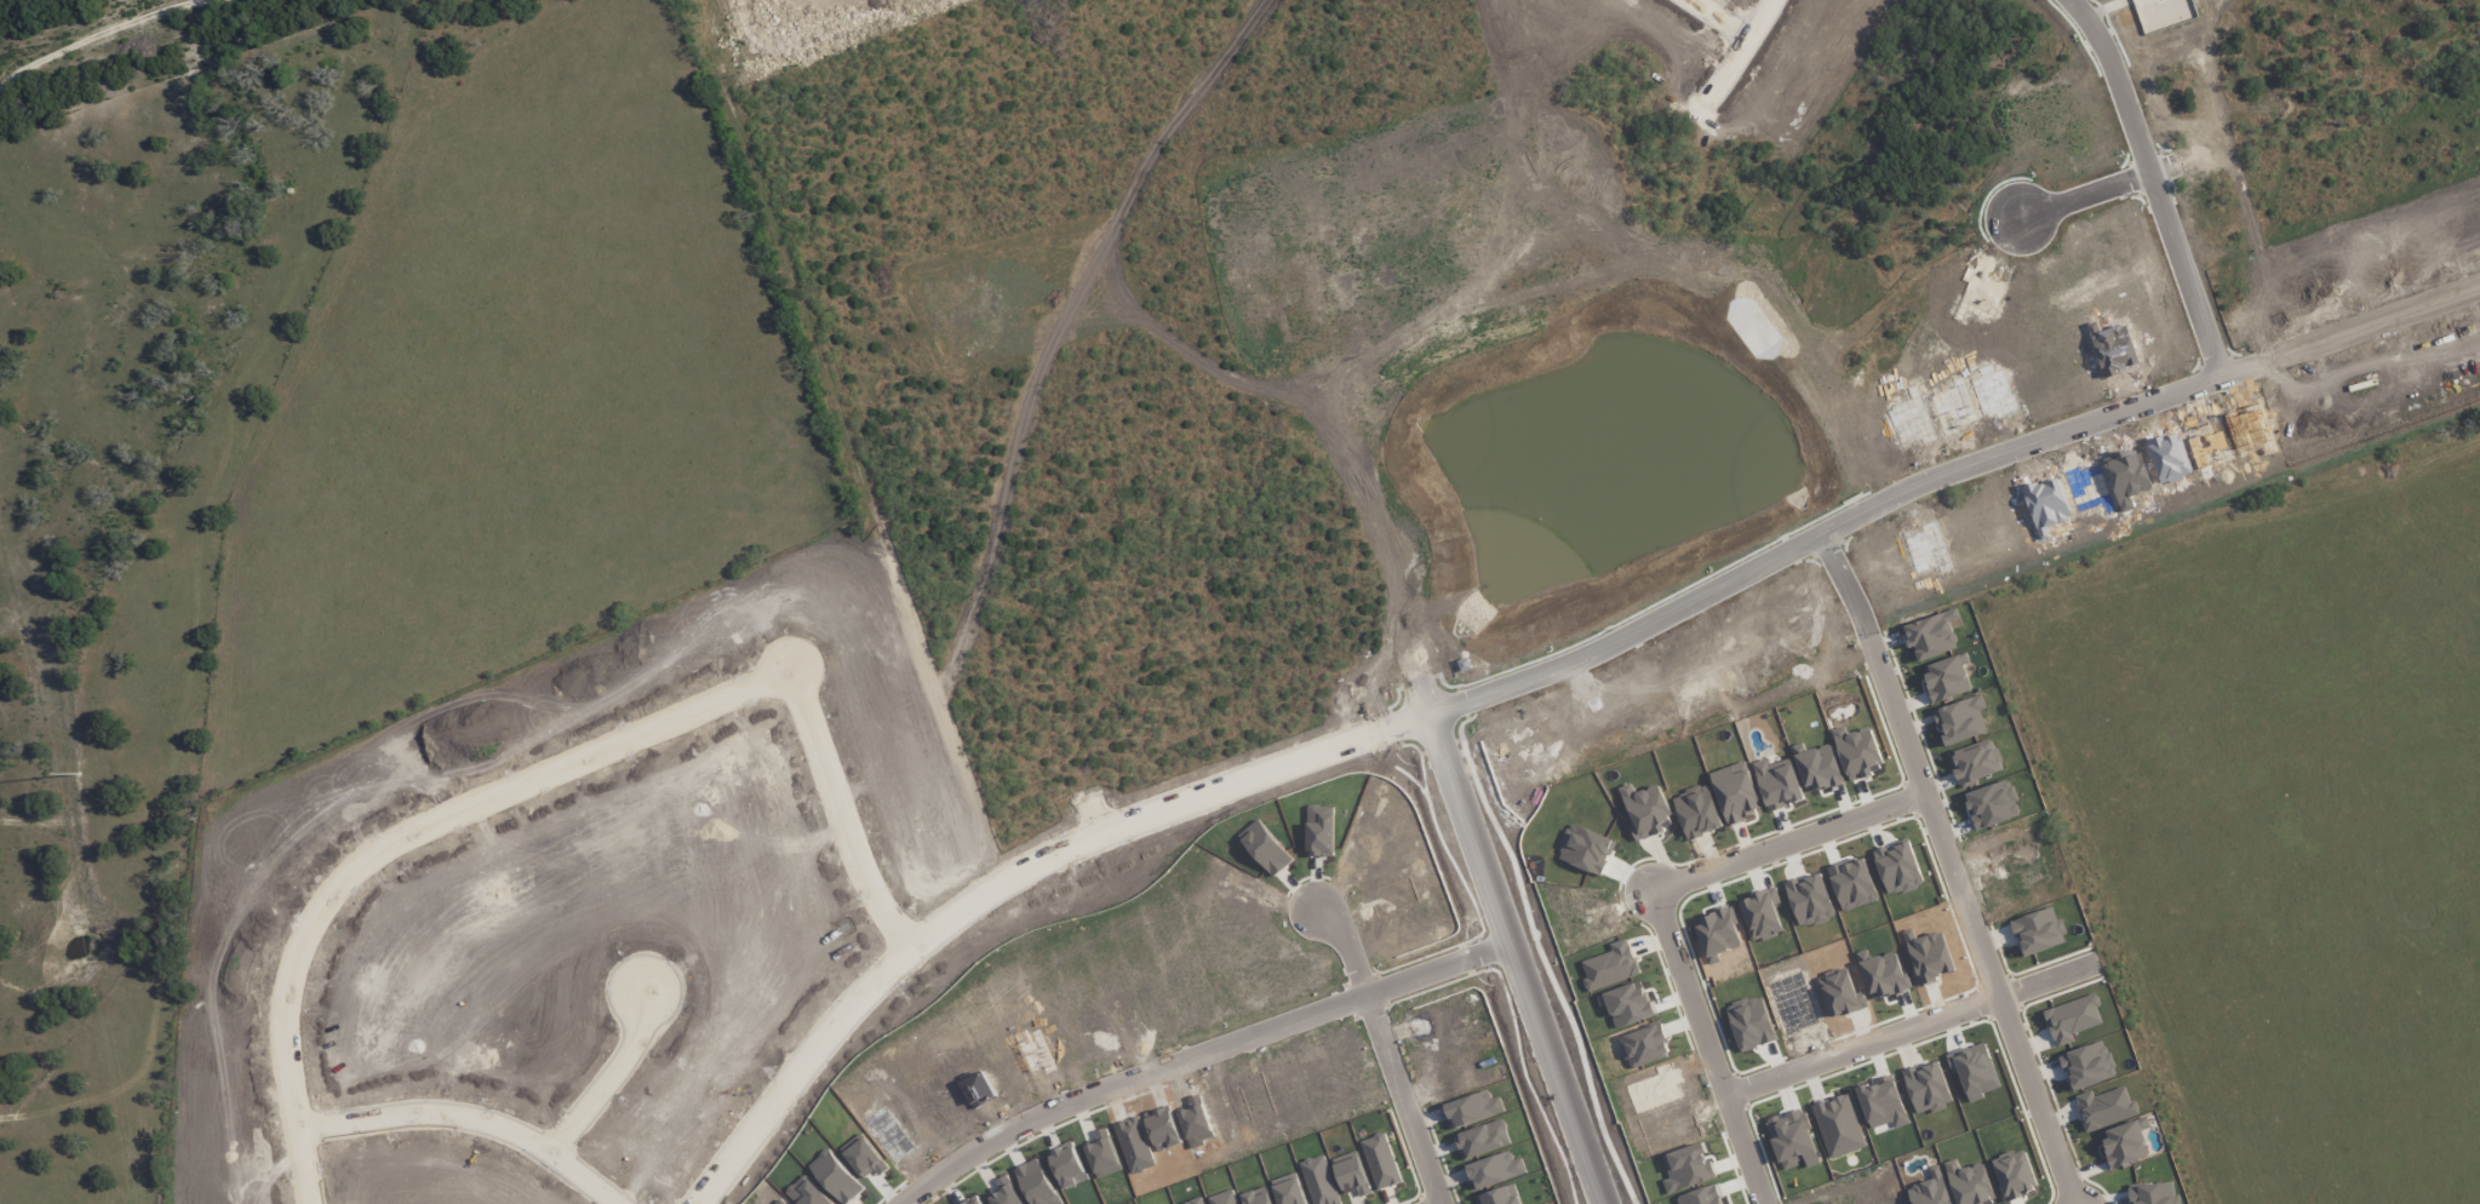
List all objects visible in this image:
road: (1735, 7)
road: (115, 35)
road: (1405, 105)
road: (2253, 120)
road: (2164, 179)
road: (1381, 233)
road: (953, 407)
road: (1185, 414)
road: (1946, 464)
road: (1397, 607)
power tower: (79, 774)
road: (841, 802)
road: (402, 822)
road: (1948, 861)
road: (1002, 866)
road: (1656, 911)
road: (1351, 951)
road: (2047, 981)
road: (1861, 1047)
road: (1204, 1054)
road: (614, 1067)
road: (1404, 1101)
road: (477, 1116)

